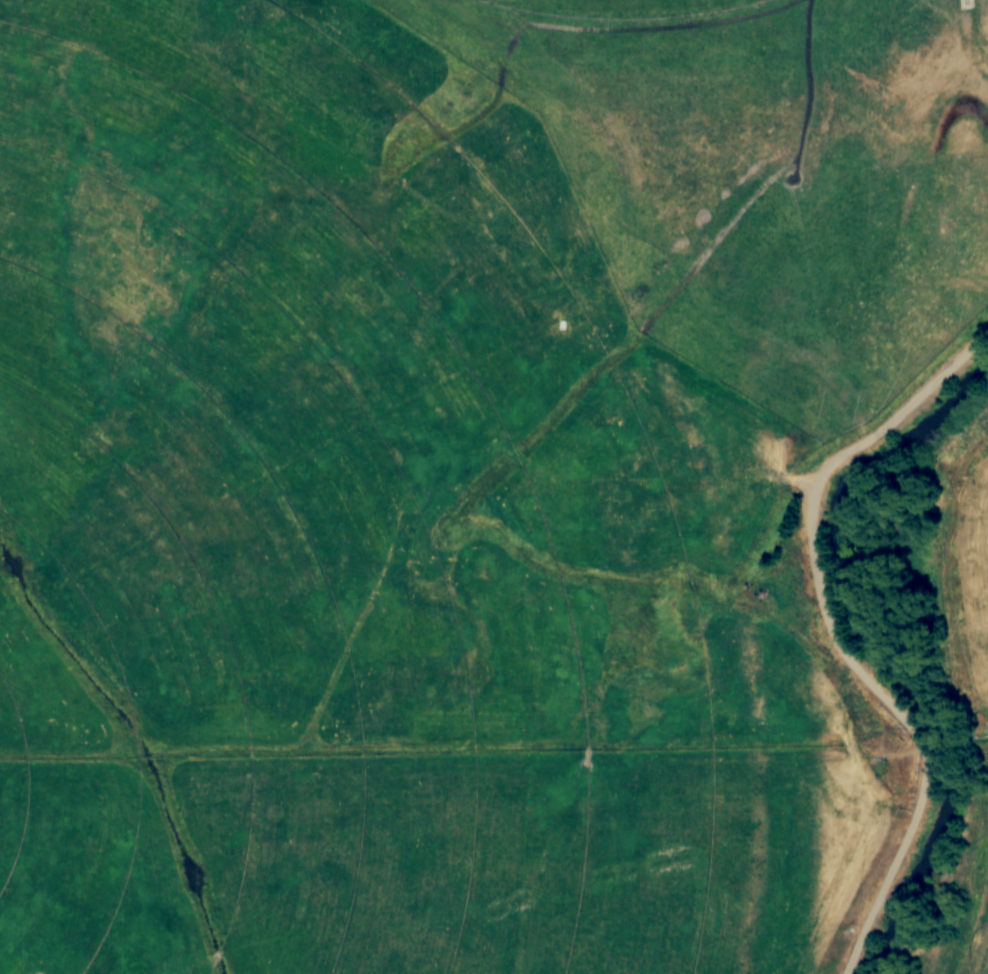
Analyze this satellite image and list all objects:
road: (836, 637)
river: (884, 661)

